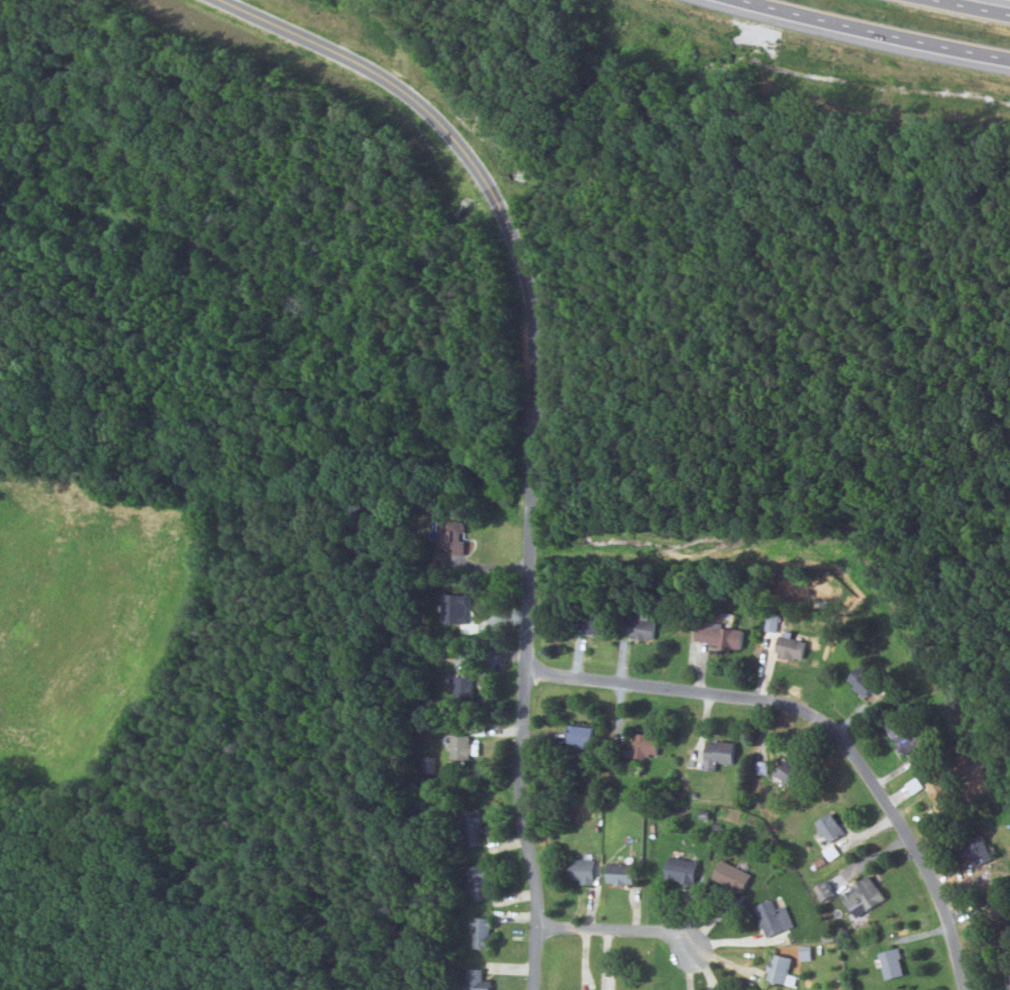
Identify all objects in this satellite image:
road: (988, 4)
road: (889, 28)
road: (538, 418)
building: (453, 535)
building: (672, 610)
building: (775, 621)
building: (595, 623)
building: (645, 625)
building: (722, 632)
building: (792, 646)
building: (868, 681)
building: (463, 686)
building: (487, 698)
building: (435, 703)
road: (822, 722)
building: (483, 727)
building: (907, 733)
building: (581, 735)
building: (647, 744)
building: (462, 745)
building: (722, 752)
building: (431, 763)
building: (764, 766)
building: (790, 771)
building: (476, 774)
building: (917, 783)
building: (558, 787)
building: (941, 790)
building: (707, 813)
building: (936, 817)
building: (718, 825)
building: (474, 826)
building: (832, 826)
building: (981, 849)
building: (832, 851)
building: (821, 860)
building: (583, 869)
building: (684, 869)
building: (623, 872)
building: (735, 875)
building: (483, 879)
building: (868, 892)
building: (1003, 897)
building: (775, 917)
building: (1002, 920)
road: (616, 928)
building: (485, 931)
building: (845, 931)
building: (829, 932)
building: (828, 944)
building: (807, 952)
building: (894, 962)
building: (782, 969)
building: (1009, 972)
building: (1009, 977)
building: (476, 980)
building: (835, 987)

